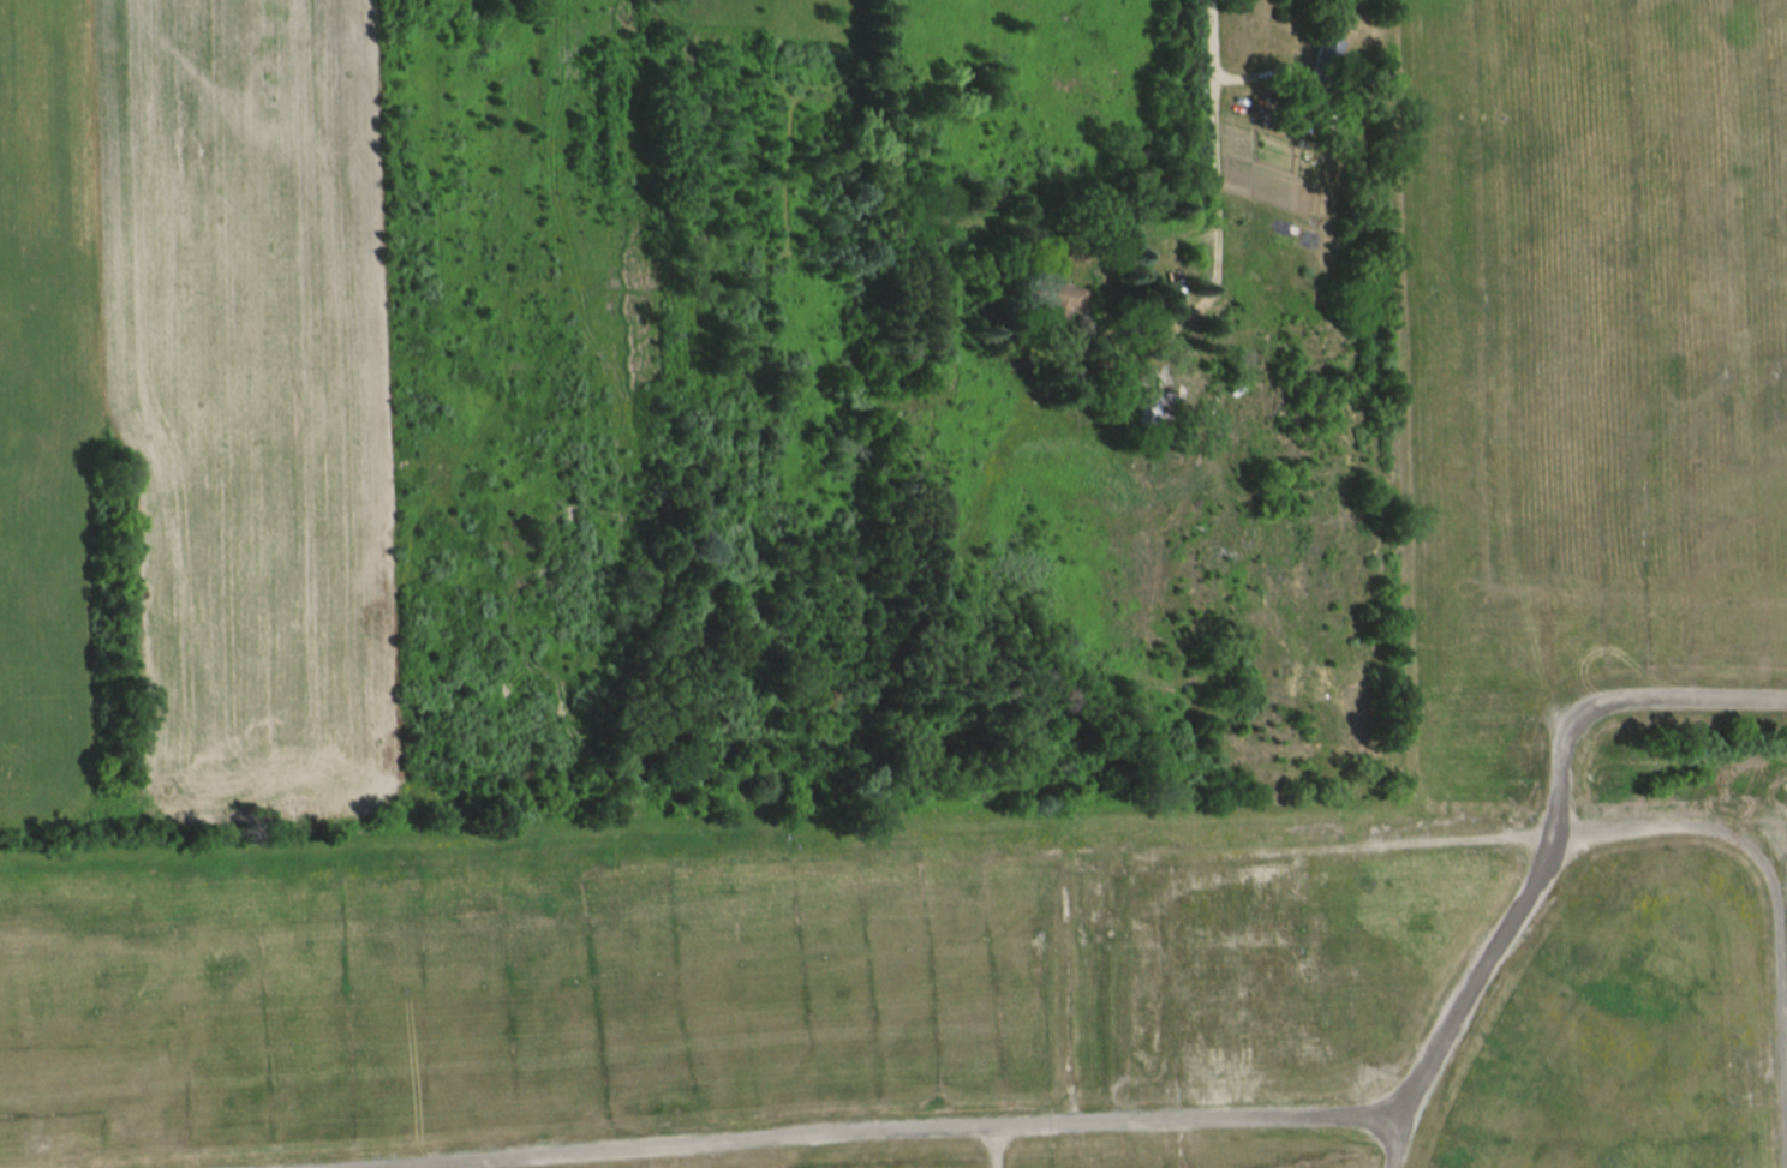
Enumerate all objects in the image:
building: (1319, 60)
road: (1212, 158)
road: (1152, 336)
crop: (244, 403)
building: (1151, 418)
road: (1546, 826)
road: (1768, 902)
road: (886, 1131)
road: (1387, 1140)

